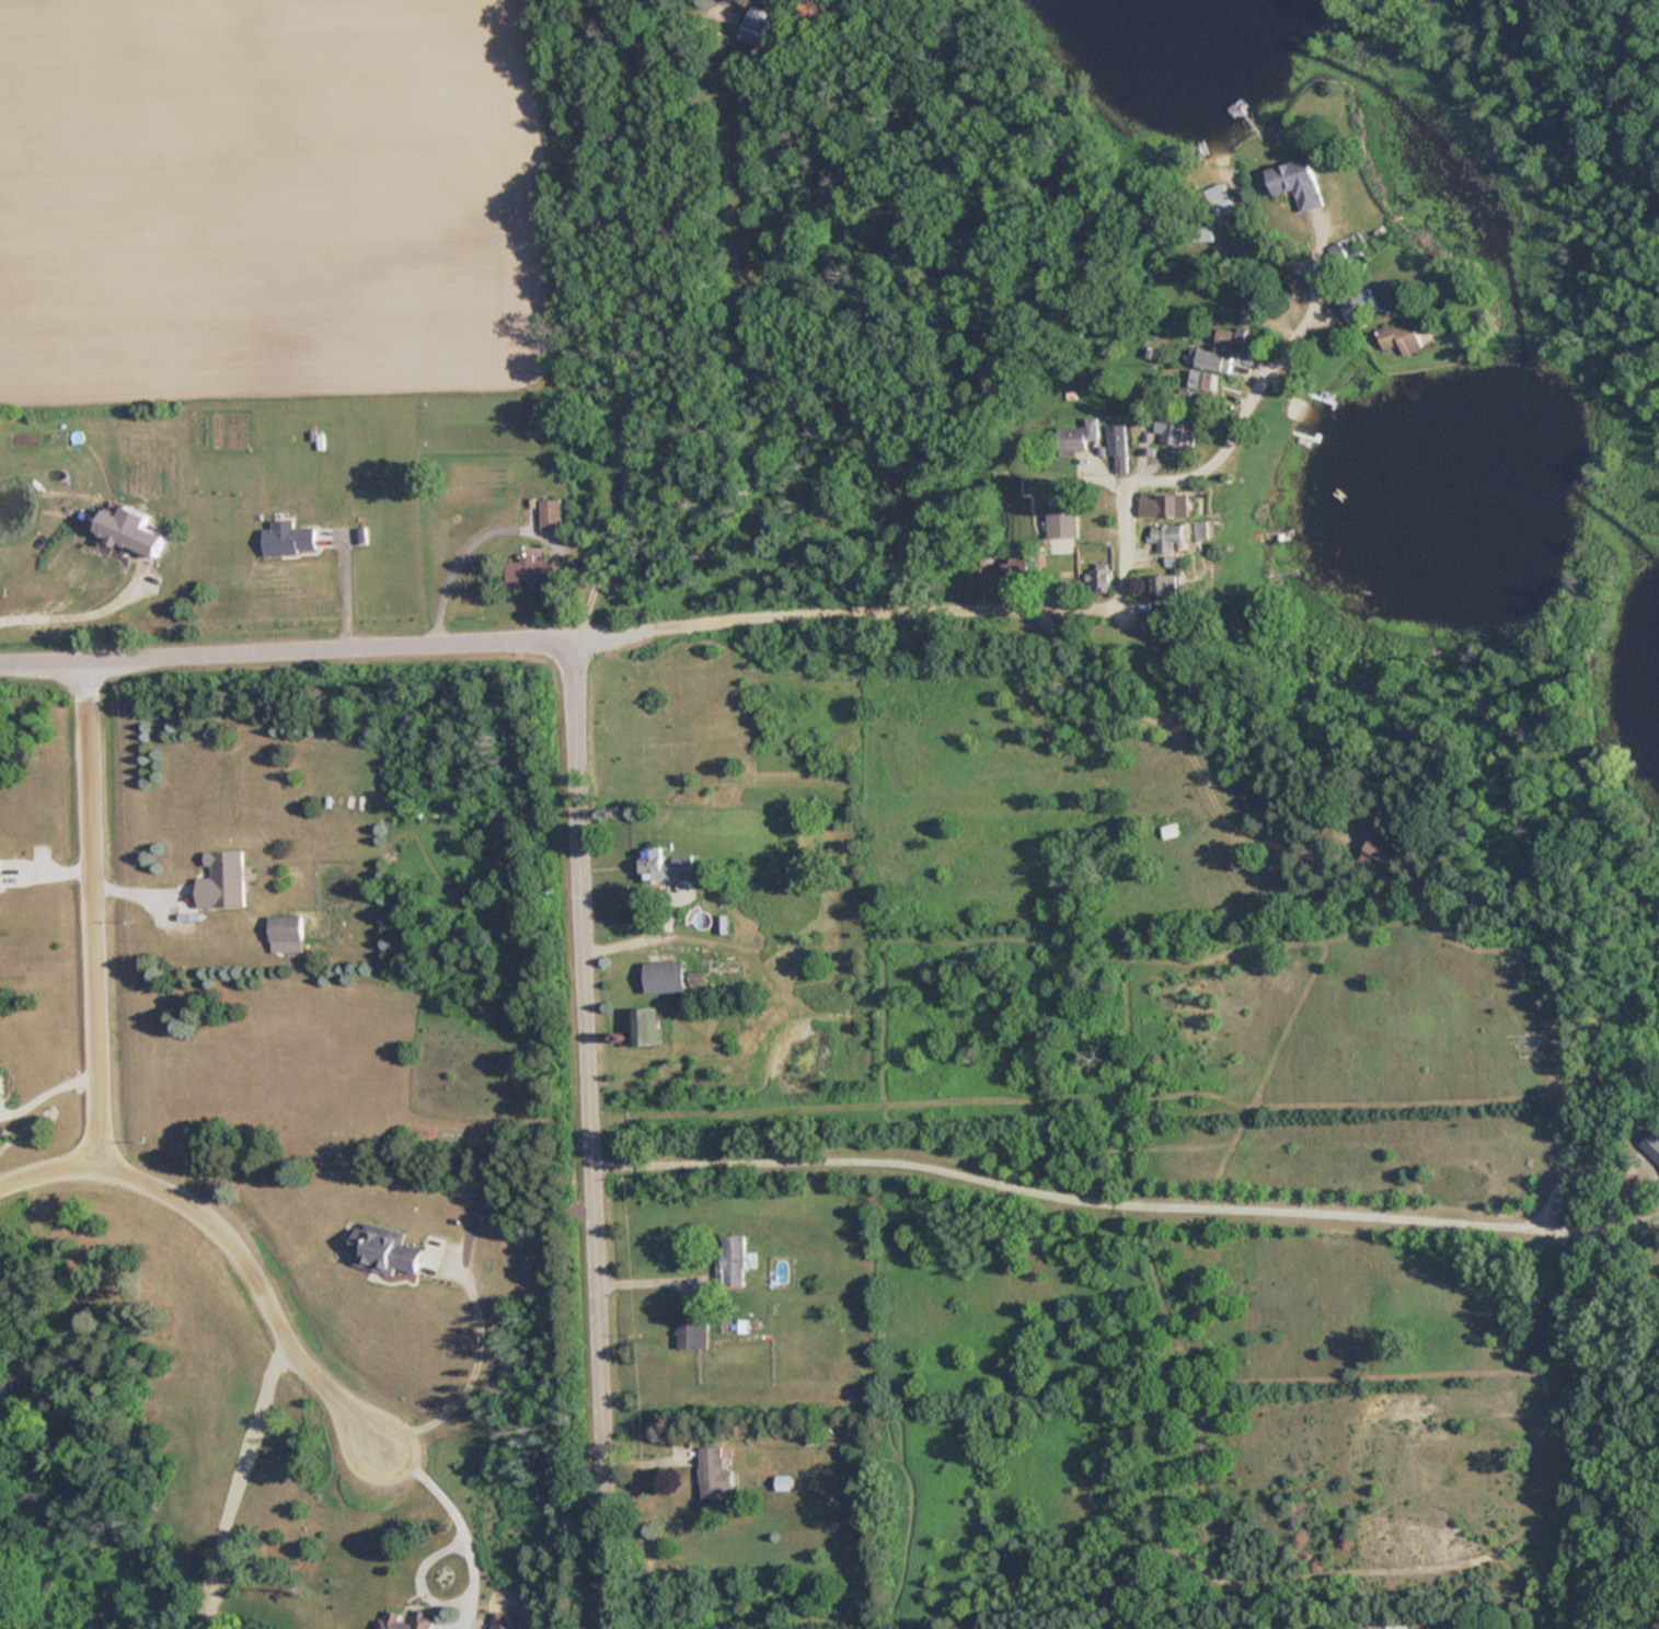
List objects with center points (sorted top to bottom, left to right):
building: (759, 27)
building: (1297, 183)
building: (1219, 203)
building: (1356, 307)
building: (1407, 335)
building: (1213, 361)
building: (1201, 384)
building: (1172, 426)
road: (627, 438)
building: (1118, 446)
building: (1164, 506)
building: (550, 515)
building: (1061, 529)
building: (128, 530)
building: (1166, 533)
building: (287, 538)
road: (451, 557)
building: (533, 570)
building: (1017, 573)
building: (1099, 579)
building: (1163, 585)
road: (1064, 598)
road: (74, 613)
road: (291, 644)
building: (1170, 830)
building: (1380, 855)
building: (664, 865)
building: (0, 874)
building: (221, 880)
road: (92, 910)
building: (284, 928)
building: (664, 978)
building: (642, 1028)
building: (0, 1084)
road: (584, 1129)
building: (1651, 1146)
road: (48, 1170)
road: (1110, 1203)
building: (382, 1249)
building: (730, 1259)
road: (648, 1278)
road: (261, 1281)
building: (691, 1332)
road: (470, 1380)
building: (7, 1401)
building: (712, 1472)
road: (235, 1483)
road: (452, 1517)
building: (391, 1620)

